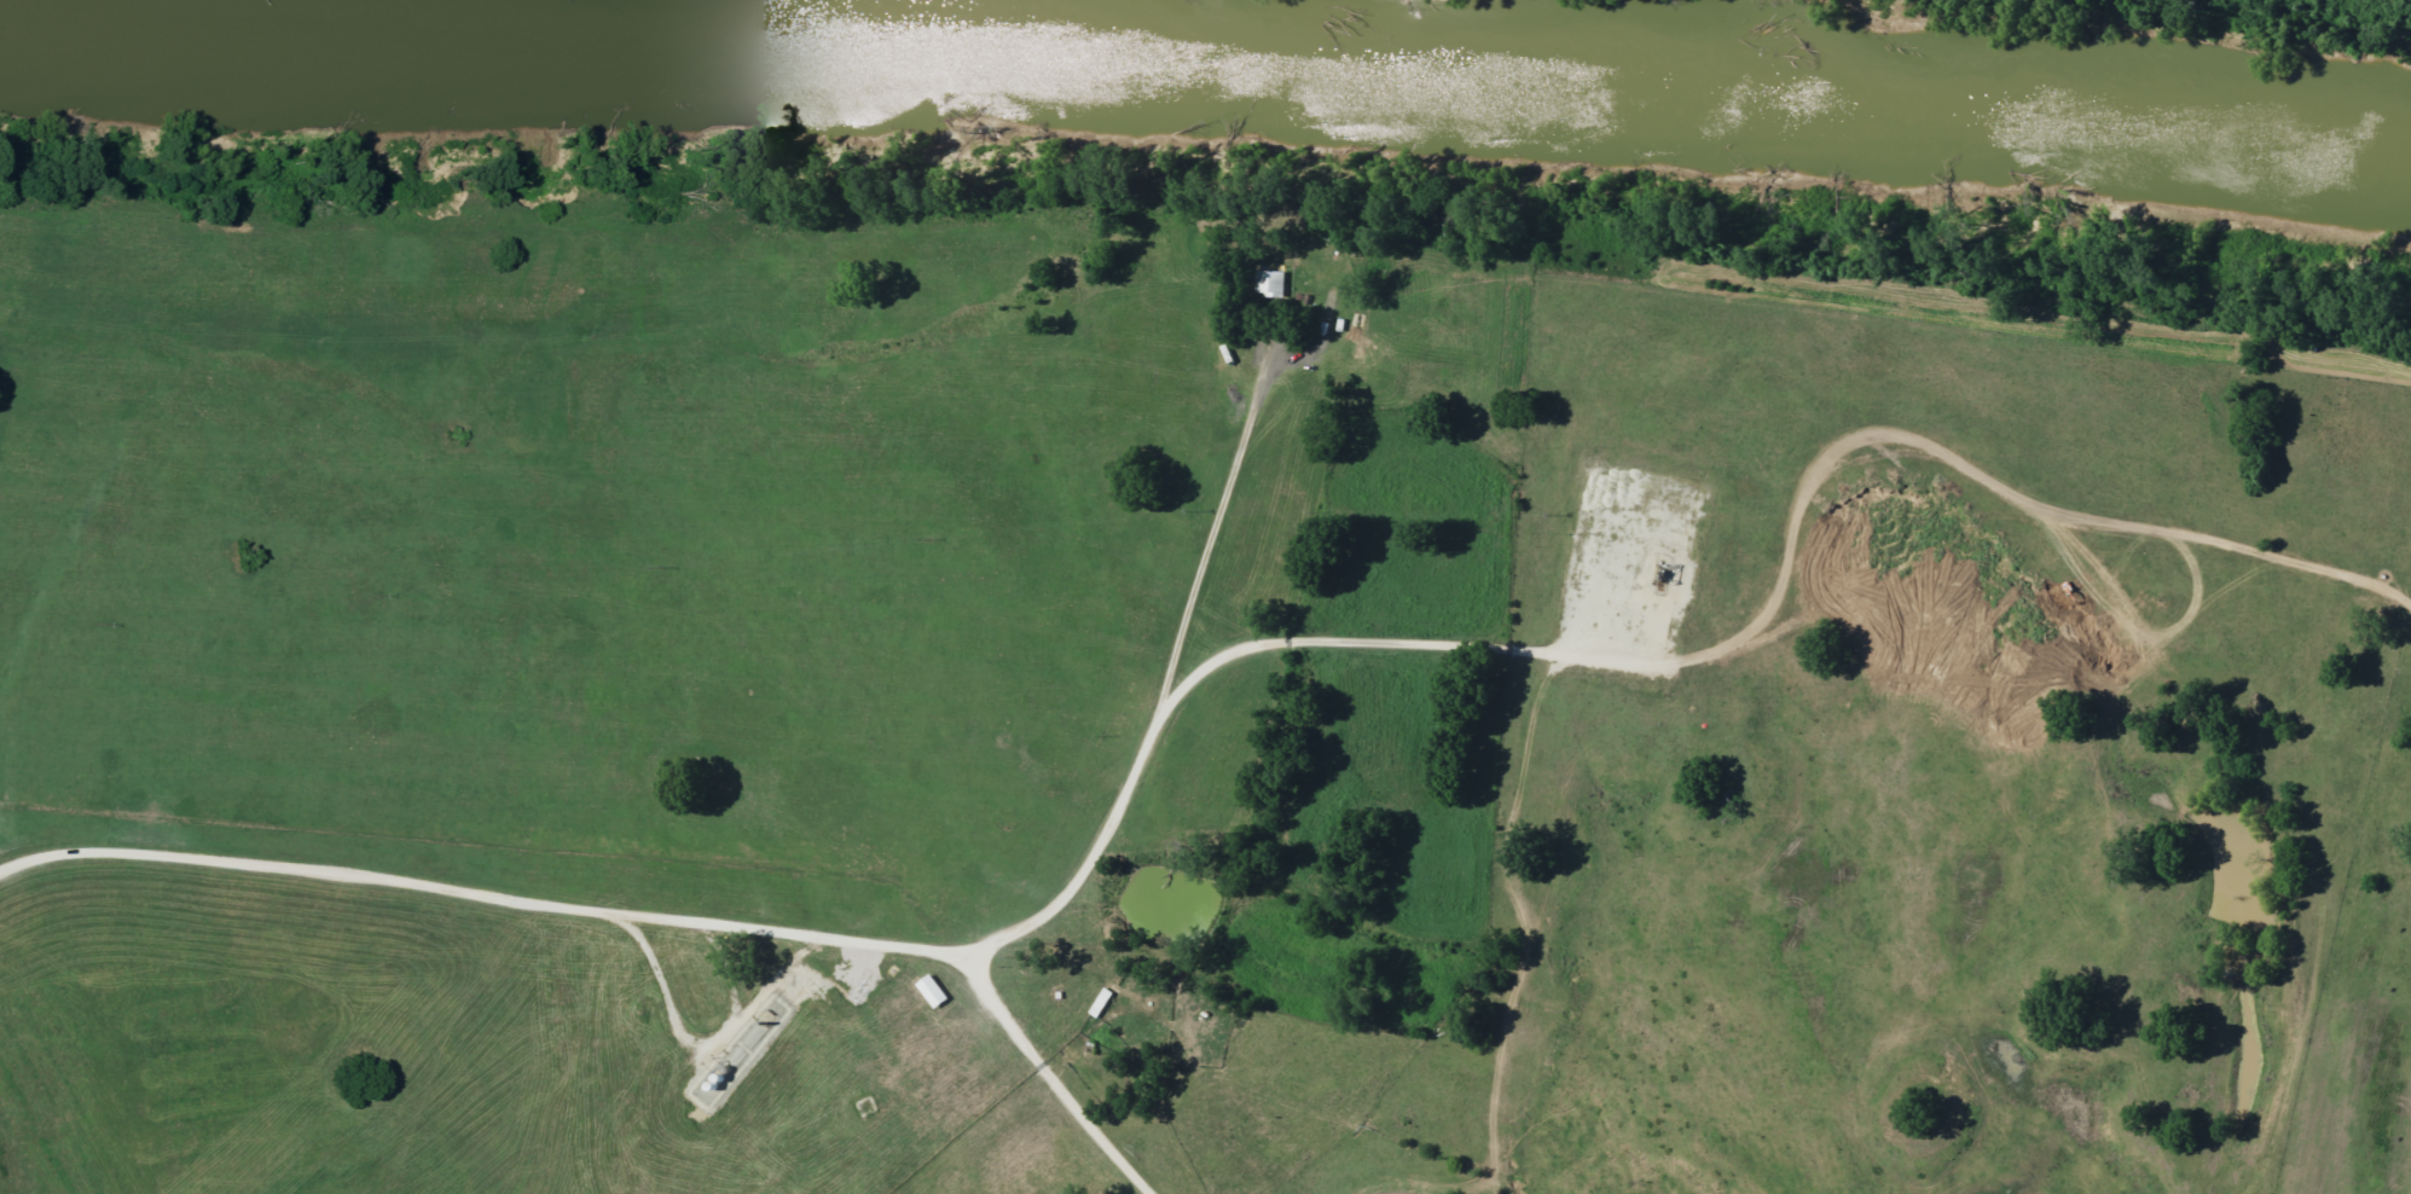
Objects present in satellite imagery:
river: (1211, 45)
petroleum well: (1664, 566)
road: (636, 909)

